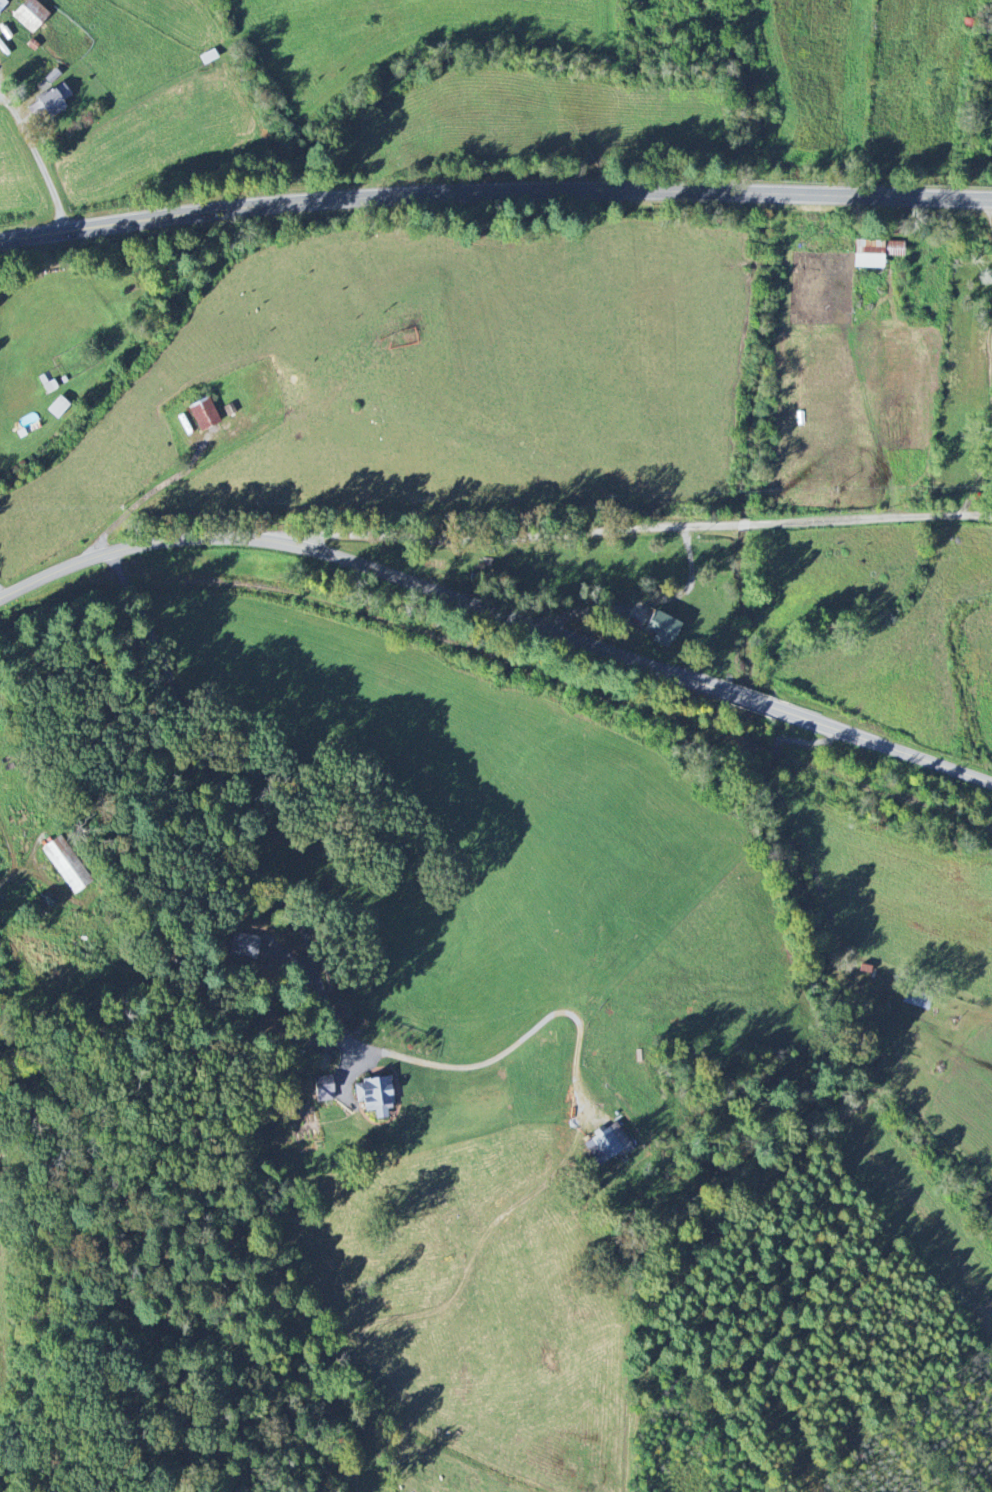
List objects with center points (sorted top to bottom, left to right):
building: (3, 4)
building: (31, 15)
building: (50, 101)
road: (37, 156)
road: (494, 196)
building: (875, 252)
building: (57, 407)
building: (203, 415)
road: (632, 531)
road: (364, 566)
road: (642, 606)
building: (661, 629)
railway: (499, 659)
road: (753, 700)
road: (886, 746)
road: (204, 792)
building: (66, 865)
building: (48, 899)
building: (913, 999)
building: (374, 1095)
building: (607, 1144)

